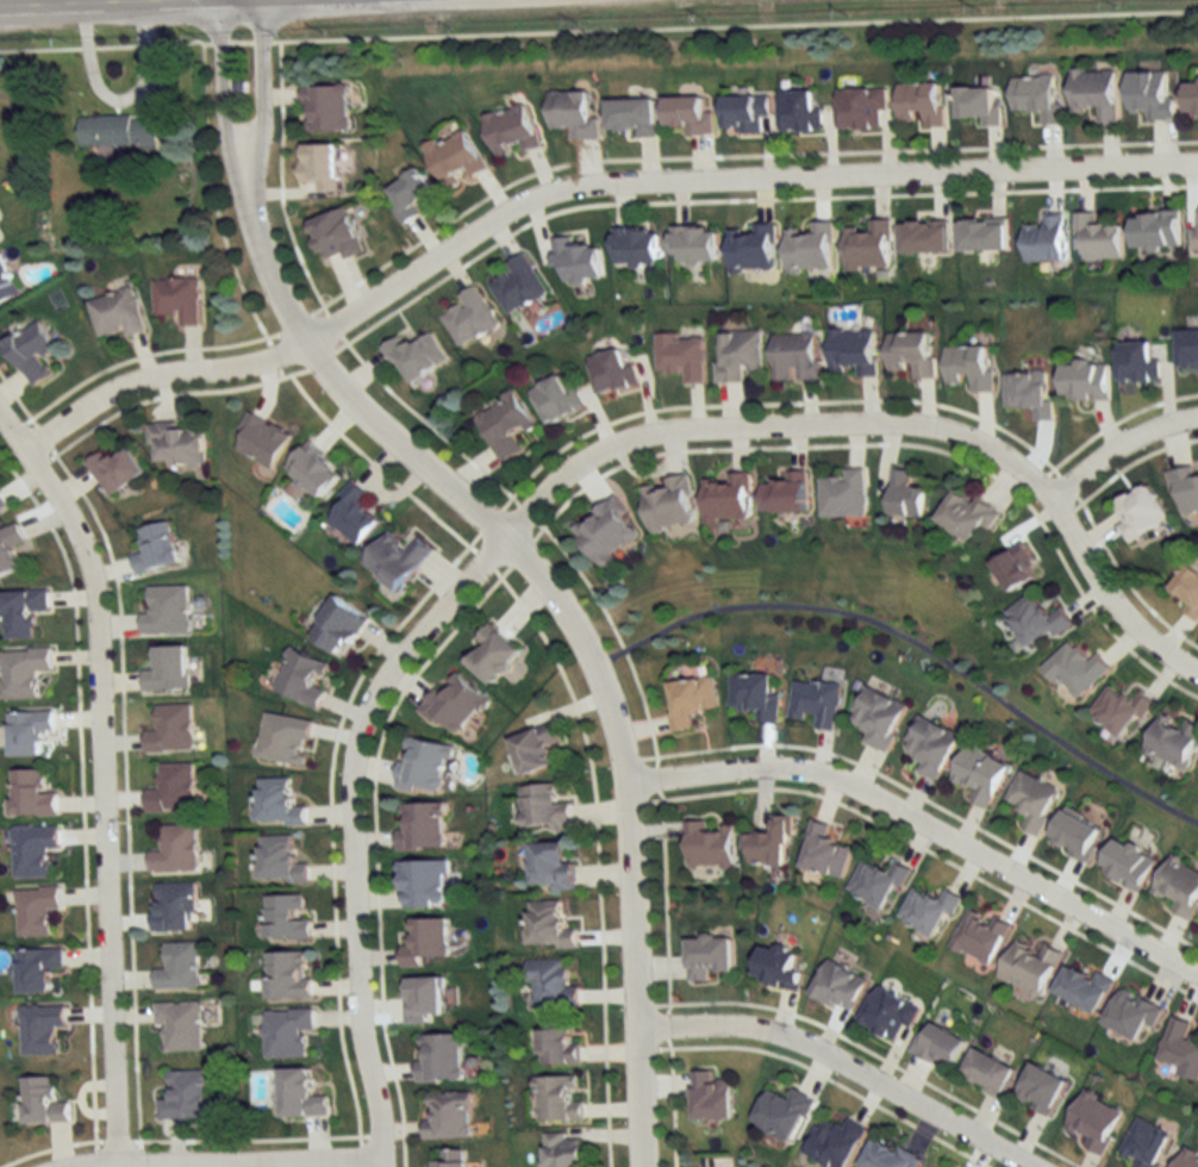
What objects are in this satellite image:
road: (23, 4)
road: (137, 4)
building: (1094, 92)
building: (1149, 94)
building: (1035, 95)
building: (1191, 98)
building: (922, 102)
building: (979, 104)
building: (861, 106)
building: (325, 107)
building: (799, 110)
building: (744, 112)
building: (572, 113)
building: (688, 113)
building: (631, 114)
building: (118, 129)
building: (511, 130)
road: (239, 133)
building: (454, 156)
building: (319, 166)
road: (725, 187)
building: (407, 193)
building: (1154, 230)
building: (980, 235)
building: (333, 236)
building: (923, 236)
building: (1044, 238)
building: (1096, 238)
building: (1193, 239)
building: (692, 243)
building: (635, 244)
building: (867, 245)
building: (750, 246)
building: (809, 248)
building: (575, 260)
building: (6, 281)
building: (517, 283)
building: (176, 300)
building: (116, 313)
building: (469, 316)
building: (1187, 349)
building: (30, 351)
building: (851, 351)
building: (910, 352)
building: (737, 354)
building: (414, 356)
building: (680, 356)
building: (793, 356)
building: (1136, 362)
building: (967, 367)
building: (610, 370)
building: (1084, 380)
road: (155, 382)
building: (1027, 392)
building: (554, 399)
building: (503, 426)
road: (890, 429)
building: (260, 441)
building: (176, 443)
road: (1118, 450)
building: (311, 469)
building: (114, 470)
building: (1185, 489)
building: (781, 493)
building: (842, 494)
building: (903, 494)
building: (723, 497)
building: (666, 504)
building: (1, 505)
building: (1137, 512)
building: (351, 513)
building: (963, 514)
building: (603, 530)
building: (8, 548)
building: (155, 548)
building: (395, 558)
building: (1013, 567)
building: (1187, 589)
road: (547, 601)
building: (166, 610)
building: (21, 612)
building: (1034, 620)
building: (336, 625)
building: (489, 653)
road: (910, 655)
building: (167, 669)
building: (1074, 669)
building: (23, 672)
building: (301, 678)
building: (753, 695)
building: (687, 700)
building: (815, 703)
building: (453, 704)
building: (1118, 711)
building: (875, 717)
building: (170, 729)
building: (27, 731)
building: (283, 739)
building: (1172, 739)
building: (929, 747)
building: (535, 748)
building: (422, 766)
building: (979, 774)
road: (101, 776)
building: (171, 788)
building: (30, 794)
building: (1031, 800)
building: (277, 803)
building: (542, 809)
building: (419, 825)
road: (354, 831)
road: (922, 832)
building: (767, 843)
building: (706, 844)
building: (175, 848)
building: (32, 850)
building: (822, 851)
building: (280, 860)
building: (1125, 862)
building: (548, 865)
building: (422, 882)
building: (875, 884)
building: (1177, 886)
building: (173, 906)
building: (35, 910)
building: (926, 911)
building: (285, 918)
building: (547, 925)
building: (979, 936)
building: (422, 940)
building: (705, 956)
building: (177, 967)
building: (1029, 967)
building: (36, 968)
building: (774, 968)
building: (288, 975)
building: (548, 984)
building: (836, 986)
building: (1081, 987)
building: (887, 1013)
building: (1131, 1013)
building: (180, 1026)
building: (40, 1029)
building: (286, 1032)
building: (937, 1044)
building: (556, 1046)
building: (1179, 1048)
building: (438, 1057)
road: (832, 1068)
building: (986, 1073)
building: (1040, 1088)
building: (298, 1094)
building: (185, 1096)
building: (709, 1097)
building: (555, 1098)
building: (42, 1102)
building: (780, 1113)
building: (447, 1116)
building: (1092, 1121)
building: (832, 1142)
building: (1146, 1144)
building: (561, 1150)
building: (884, 1156)
building: (447, 1159)
building: (1187, 1159)
road: (226, 1162)

